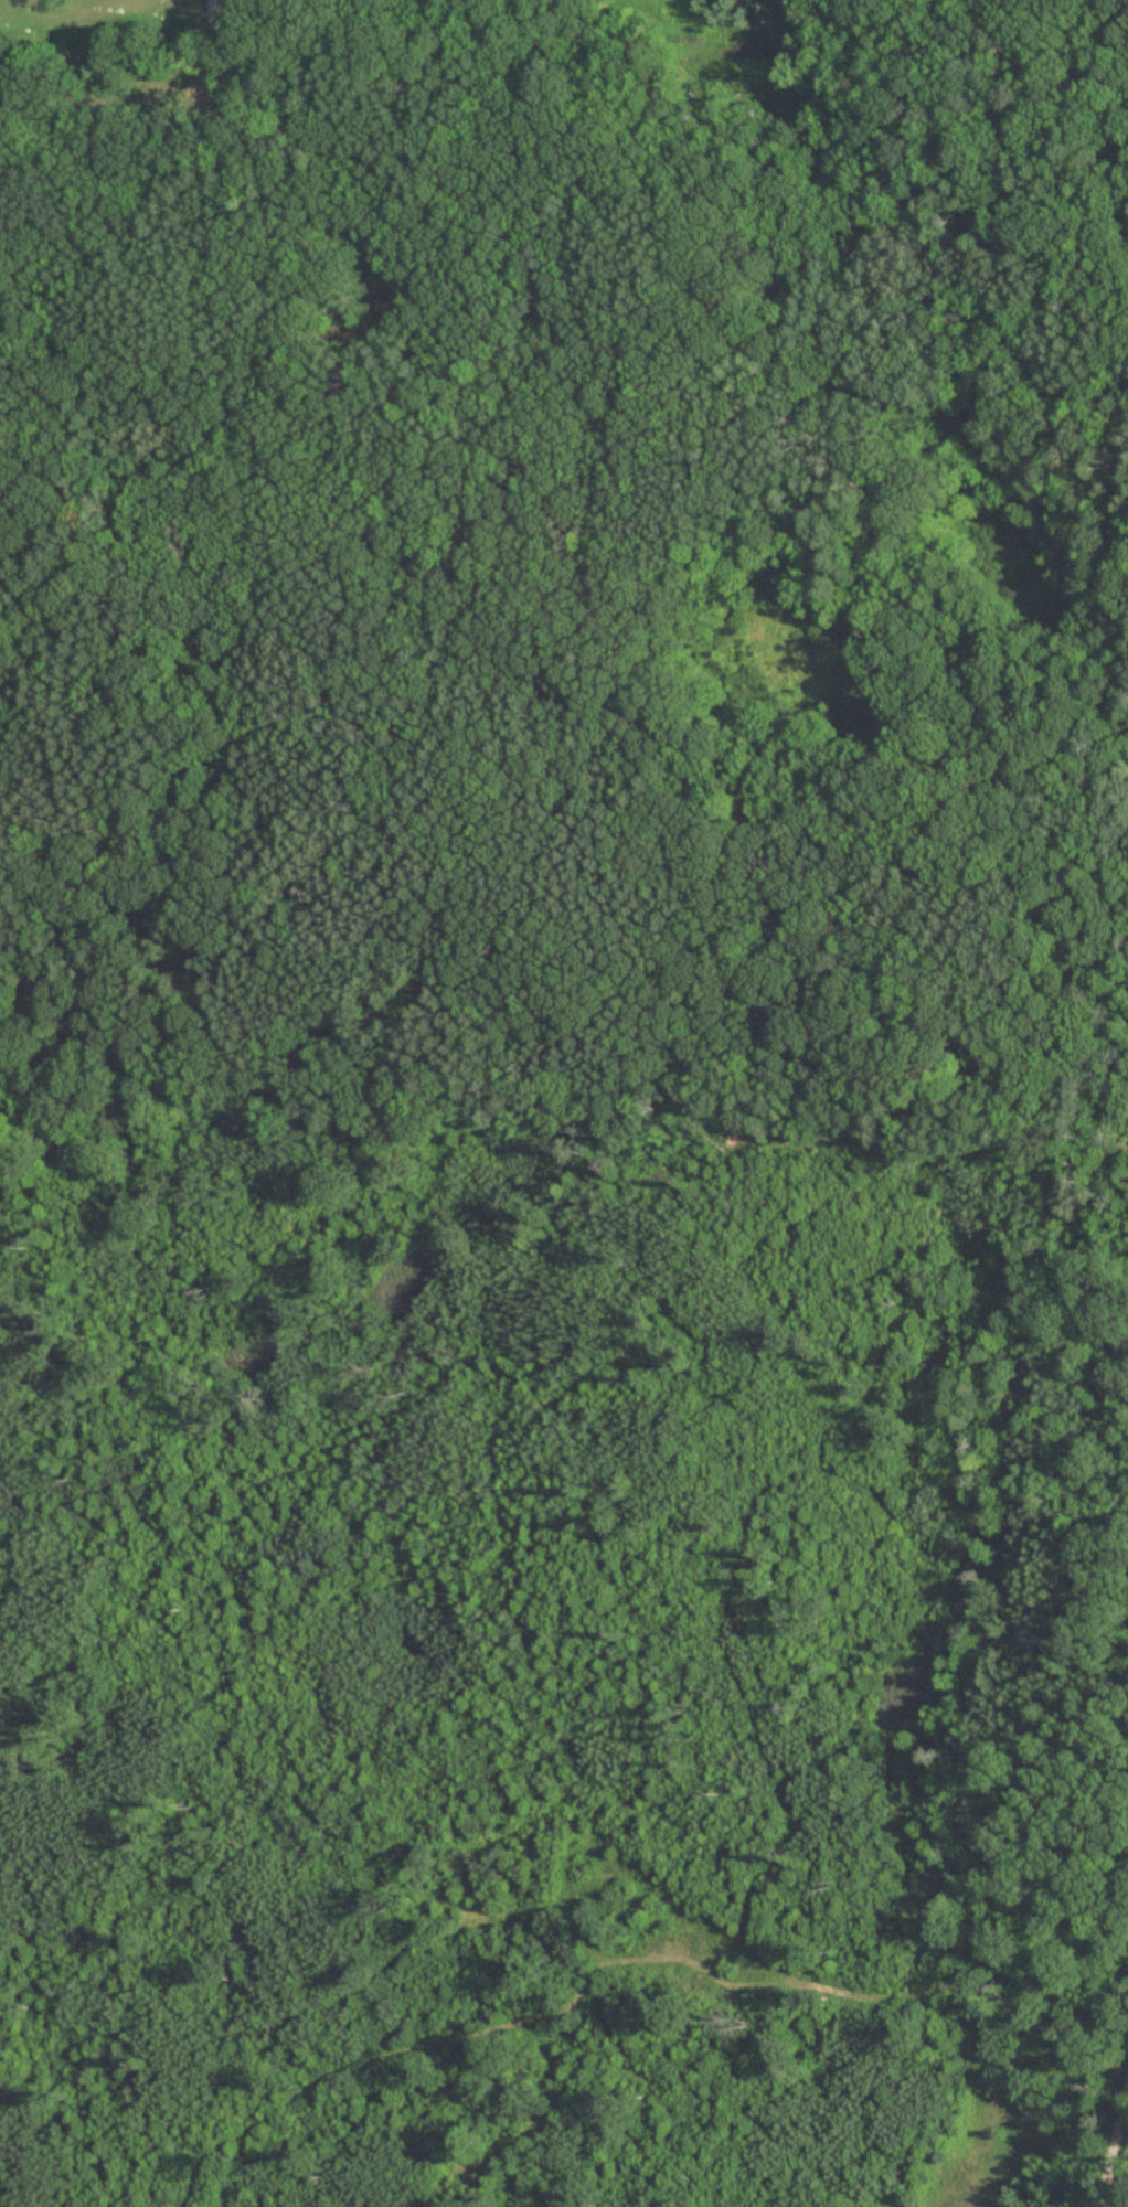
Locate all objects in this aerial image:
road: (220, 18)
road: (128, 103)
road: (280, 174)
building: (401, 301)
road: (811, 366)
road: (1116, 2152)

